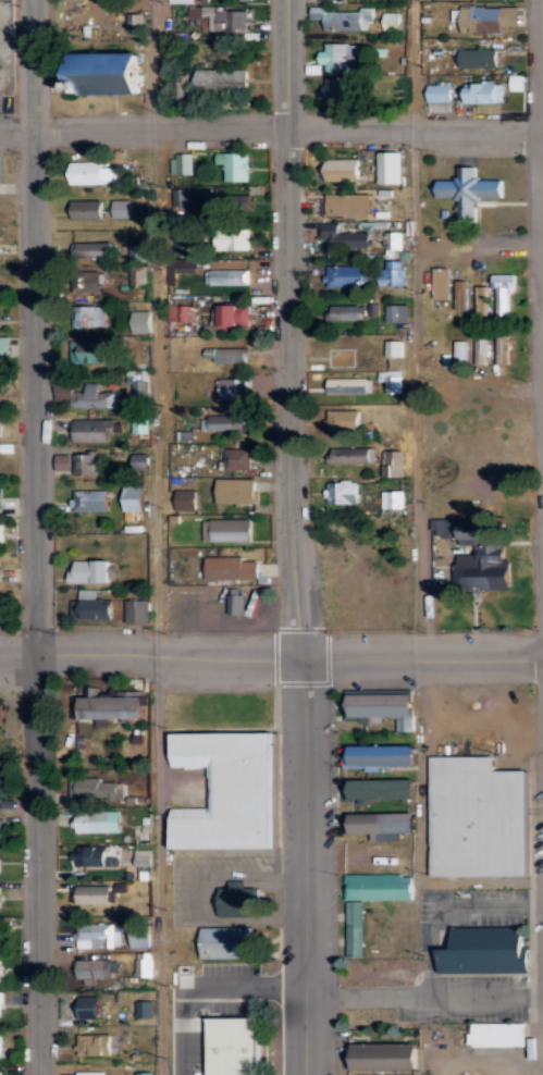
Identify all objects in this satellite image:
building: (180, 0)
building: (239, 0)
building: (343, 17)
building: (489, 17)
building: (226, 18)
building: (392, 21)
building: (342, 57)
building: (480, 57)
building: (112, 73)
building: (222, 77)
building: (517, 83)
building: (341, 90)
building: (441, 91)
building: (483, 91)
building: (440, 106)
road: (271, 123)
building: (182, 163)
building: (235, 164)
building: (391, 168)
building: (344, 169)
building: (92, 172)
building: (469, 190)
building: (182, 196)
building: (348, 203)
building: (223, 205)
building: (122, 208)
building: (88, 209)
building: (342, 236)
building: (234, 239)
building: (394, 240)
building: (92, 250)
building: (138, 252)
building: (393, 272)
building: (137, 275)
building: (226, 275)
building: (345, 275)
building: (440, 282)
building: (94, 283)
building: (502, 292)
building: (460, 294)
building: (481, 299)
building: (351, 311)
building: (397, 312)
building: (182, 313)
building: (235, 316)
building: (89, 317)
building: (141, 321)
building: (7, 346)
building: (394, 348)
building: (481, 349)
building: (502, 349)
building: (89, 350)
building: (231, 354)
building: (459, 355)
building: (393, 381)
building: (350, 385)
building: (234, 388)
building: (86, 396)
building: (344, 420)
building: (231, 422)
building: (140, 423)
building: (90, 430)
building: (351, 455)
building: (237, 458)
building: (63, 461)
building: (140, 461)
building: (392, 462)
building: (88, 464)
building: (236, 491)
building: (343, 492)
building: (1, 496)
road: (422, 496)
building: (134, 498)
building: (186, 498)
building: (392, 499)
building: (89, 501)
building: (444, 527)
building: (226, 528)
road: (38, 536)
road: (160, 537)
road: (295, 537)
building: (485, 555)
building: (233, 568)
road: (271, 655)
building: (116, 706)
building: (383, 707)
building: (384, 756)
building: (95, 789)
building: (381, 789)
building: (5, 800)
building: (98, 821)
building: (382, 825)
building: (0, 839)
building: (96, 855)
building: (380, 887)
building: (90, 894)
building: (0, 895)
building: (7, 923)
building: (140, 932)
building: (97, 935)
building: (0, 971)
building: (95, 972)
building: (0, 1004)
building: (95, 1045)
building: (236, 1047)
building: (0, 1050)
building: (387, 1058)
building: (0, 1073)

